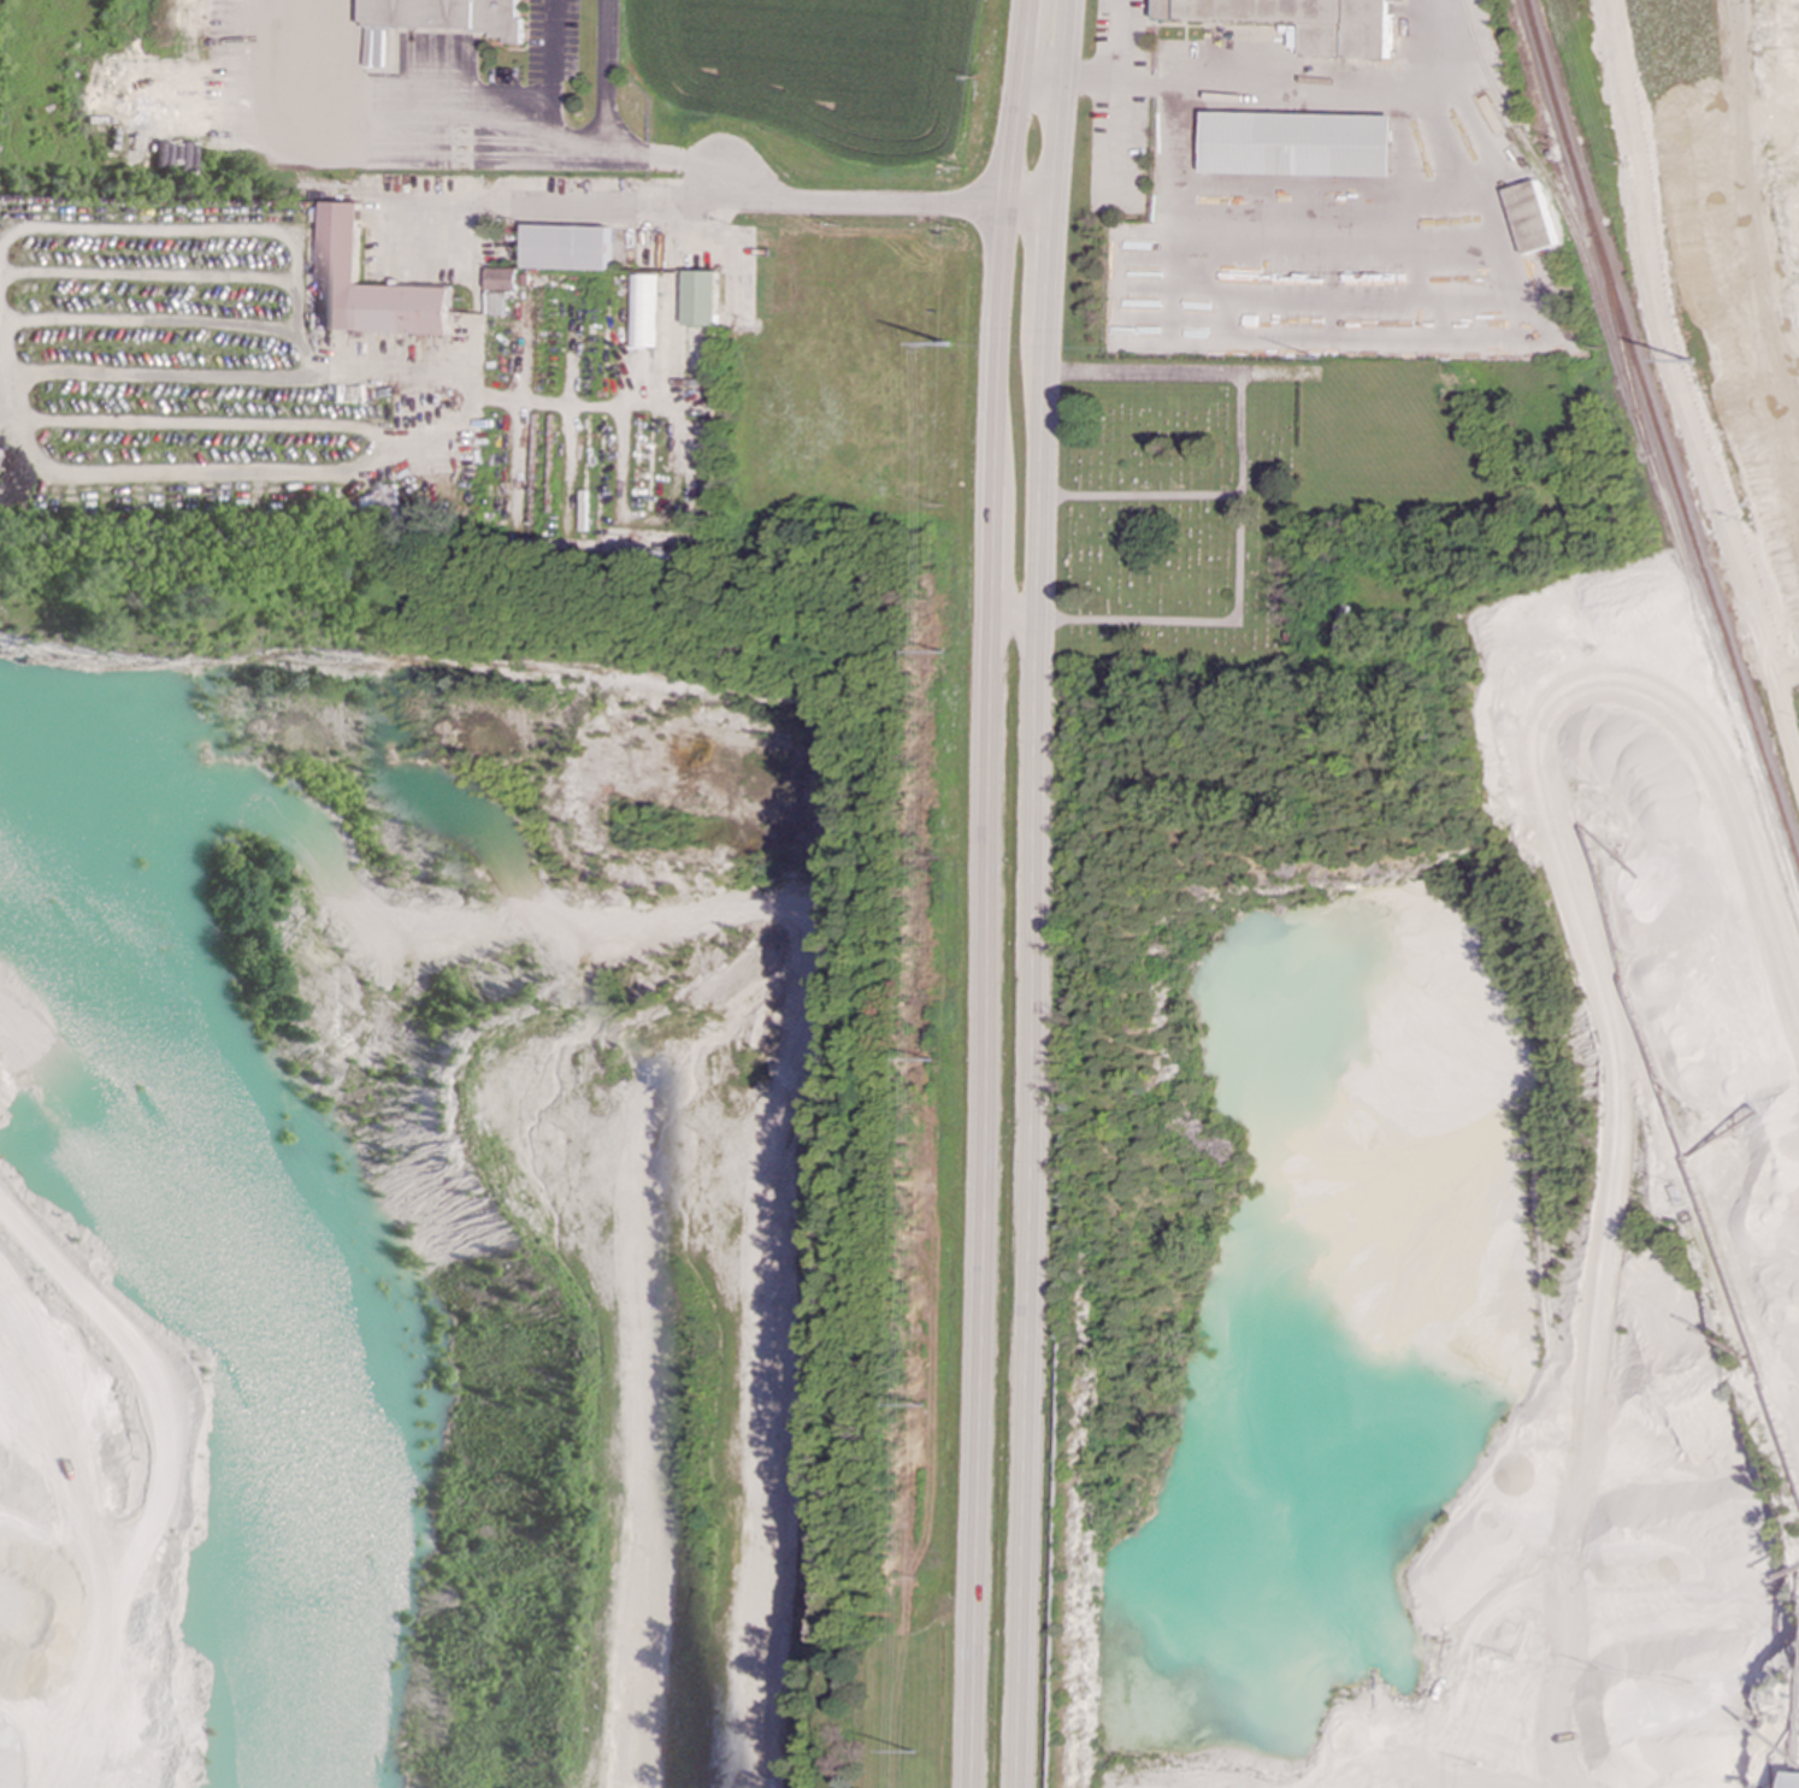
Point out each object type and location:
building: (450, 16)
building: (1305, 22)
road: (1121, 61)
crop: (833, 69)
road: (604, 72)
road: (1044, 72)
road: (553, 101)
building: (1299, 143)
road: (663, 163)
road: (880, 205)
road: (521, 211)
building: (1533, 217)
railway: (1570, 219)
road: (299, 231)
building: (570, 247)
building: (503, 278)
building: (372, 287)
building: (703, 299)
building: (499, 303)
building: (643, 311)
power tower: (950, 347)
power tower: (1323, 362)
power tower: (1691, 364)
road: (670, 395)
railway: (1662, 431)
road: (269, 476)
road: (1138, 496)
building: (384, 498)
road: (1240, 498)
park: (1305, 512)
road: (642, 523)
railway: (1688, 580)
road: (1011, 619)
power tower: (957, 656)
road: (986, 892)
road: (1031, 893)
power tower: (956, 1069)
quarry: (1467, 1119)
quarry: (485, 1169)
power tower: (952, 1416)
power tower: (945, 1748)
building: (1792, 1780)

